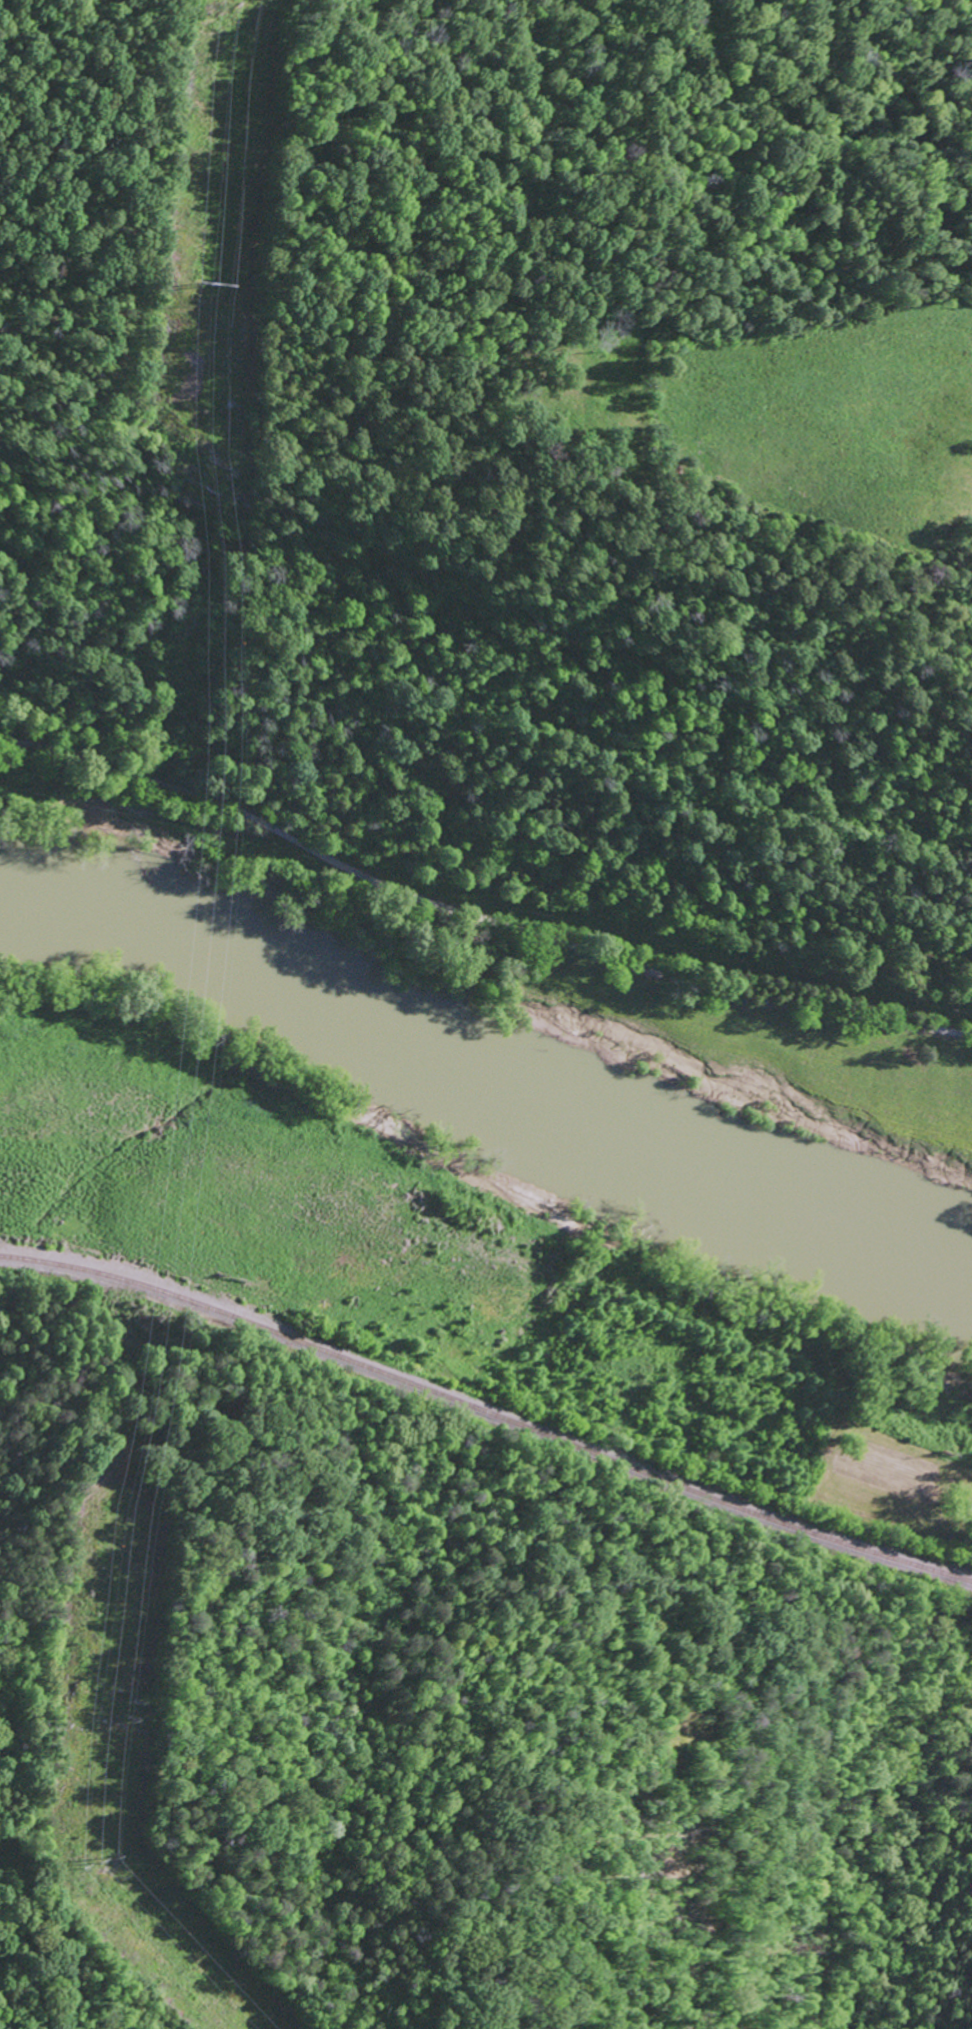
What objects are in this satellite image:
power tower: (223, 281)
road: (474, 920)
river: (491, 1073)
railway: (487, 1412)
power tower: (102, 1863)

